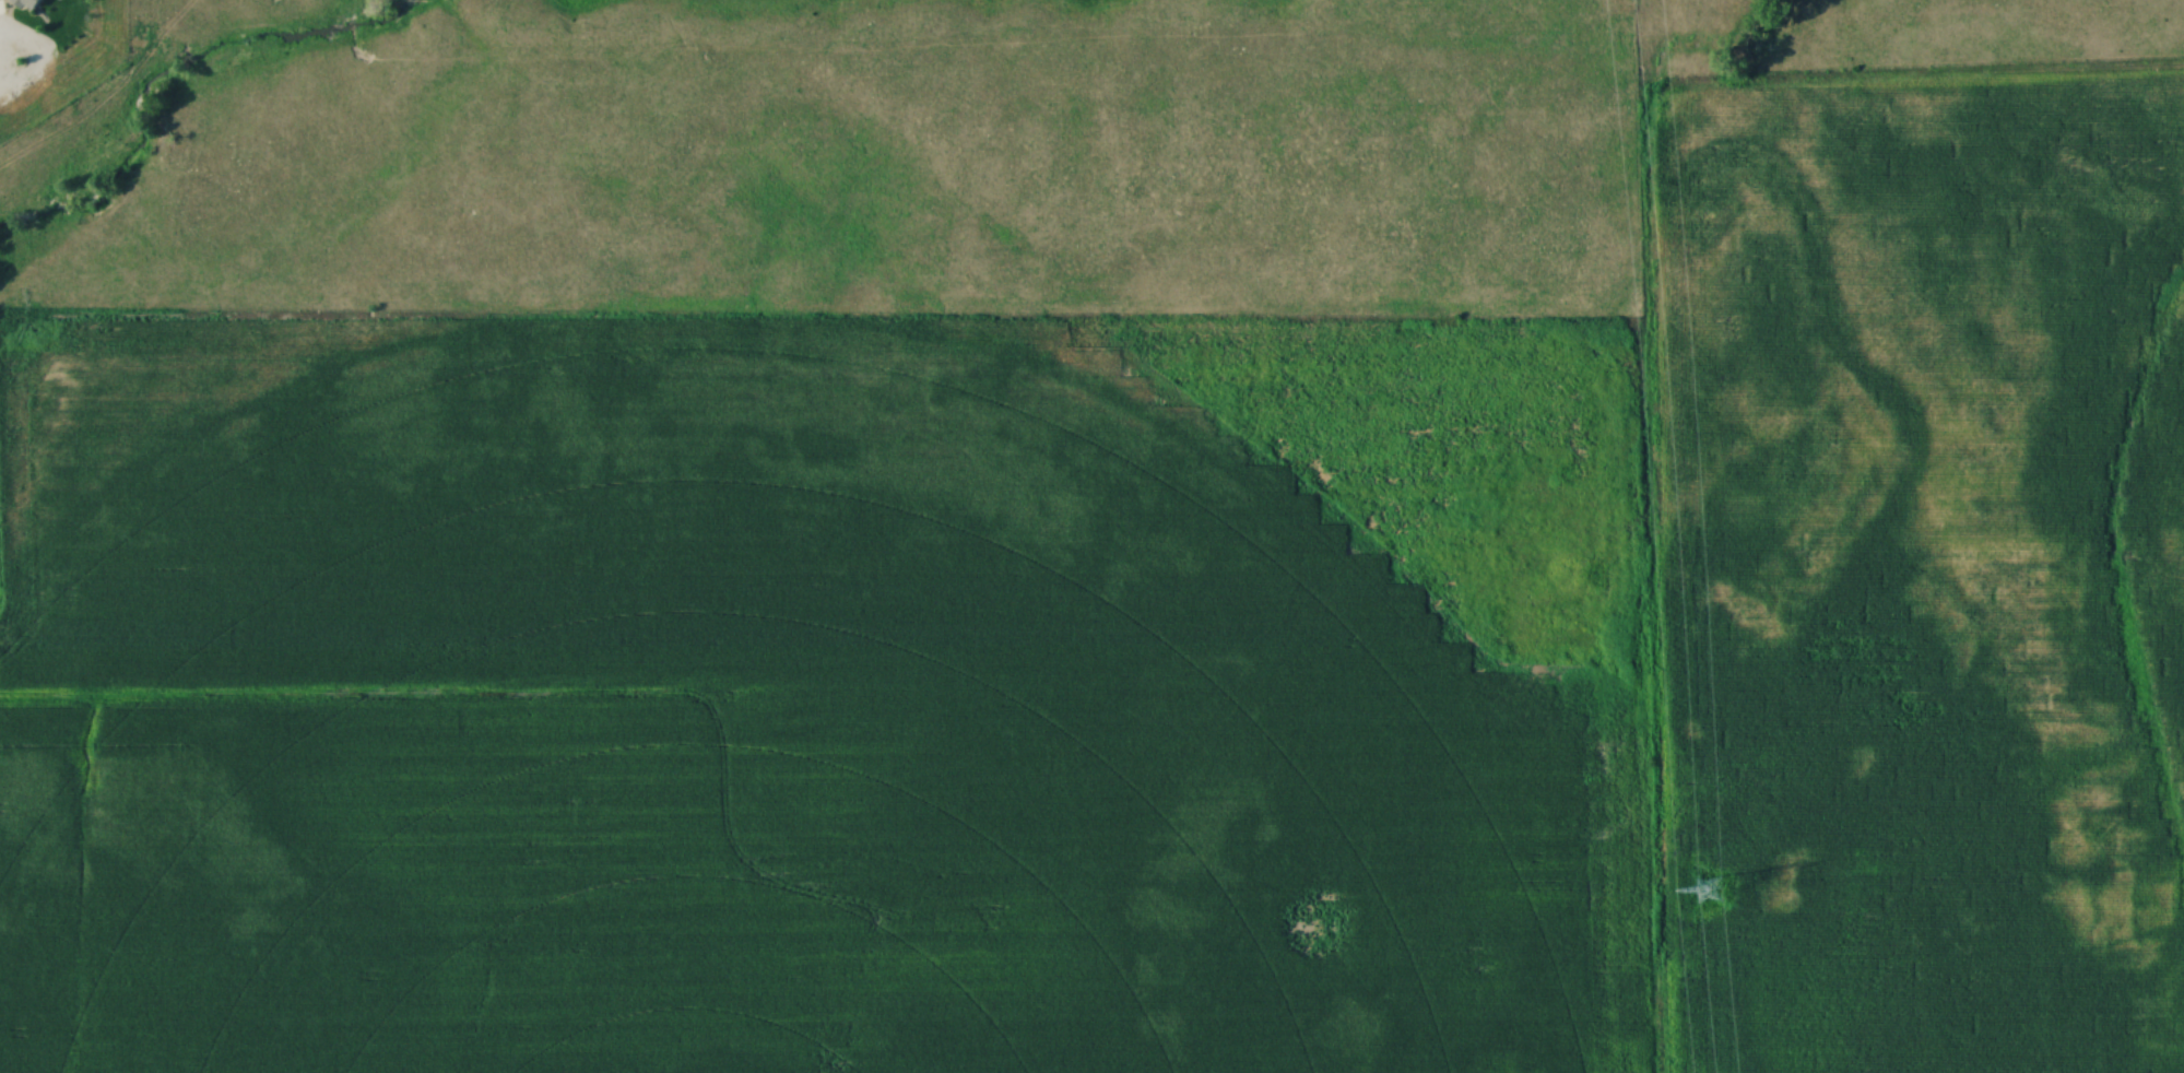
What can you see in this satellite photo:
power tower: (1709, 892)

